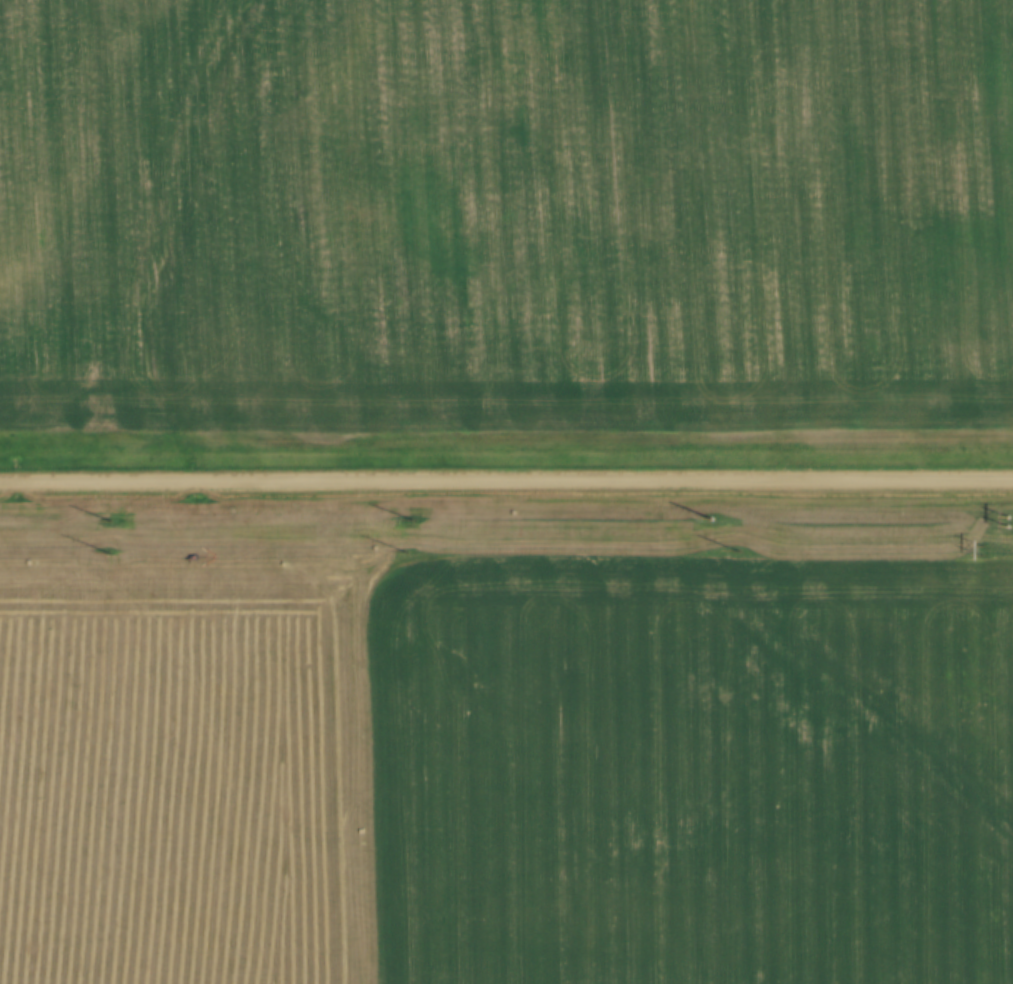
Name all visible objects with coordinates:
road: (506, 482)

